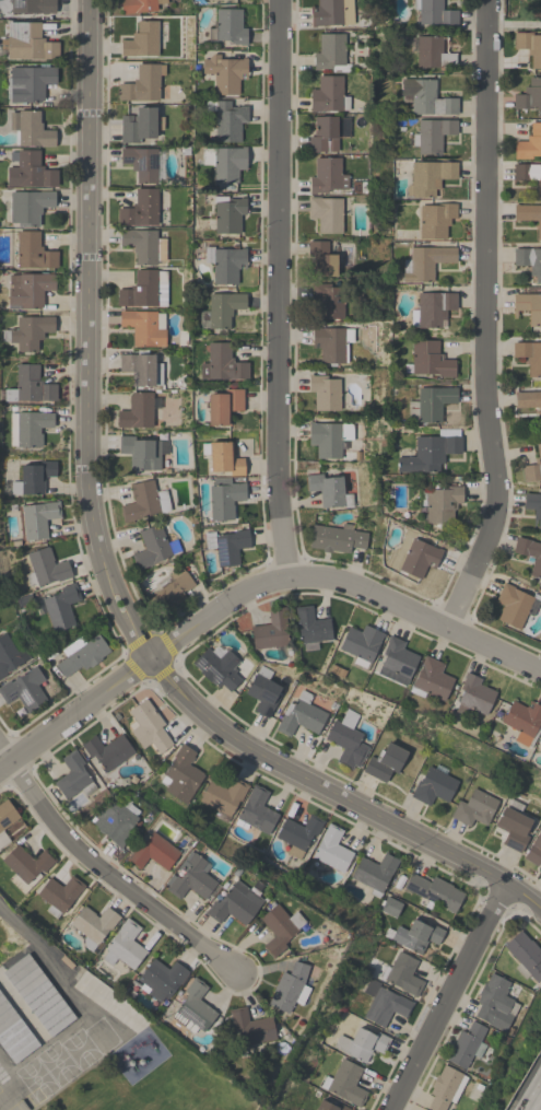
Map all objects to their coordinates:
building: (140, 5)
building: (34, 8)
building: (332, 13)
building: (433, 13)
road: (514, 24)
building: (228, 27)
building: (142, 40)
building: (28, 42)
building: (529, 46)
building: (431, 51)
building: (331, 52)
building: (225, 73)
building: (30, 83)
building: (143, 83)
building: (329, 94)
building: (530, 96)
building: (426, 97)
building: (227, 120)
building: (141, 125)
building: (31, 129)
building: (329, 133)
building: (433, 135)
building: (529, 143)
building: (144, 163)
building: (225, 164)
building: (30, 171)
building: (529, 175)
building: (327, 176)
building: (430, 177)
building: (30, 207)
building: (148, 208)
building: (327, 213)
building: (228, 214)
building: (528, 214)
building: (436, 220)
building: (144, 245)
building: (34, 252)
building: (322, 259)
building: (529, 260)
building: (426, 262)
building: (225, 264)
road: (278, 288)
building: (145, 289)
building: (30, 290)
building: (329, 301)
building: (529, 306)
building: (432, 308)
building: (221, 309)
road: (484, 320)
building: (145, 327)
building: (30, 332)
road: (89, 337)
building: (332, 343)
building: (530, 355)
building: (430, 360)
building: (222, 363)
building: (142, 369)
building: (30, 386)
building: (326, 392)
building: (528, 400)
building: (431, 404)
building: (224, 406)
building: (139, 411)
building: (28, 428)
building: (327, 439)
building: (432, 451)
building: (141, 453)
building: (223, 457)
building: (533, 468)
building: (33, 478)
building: (330, 490)
building: (225, 498)
building: (145, 501)
building: (442, 501)
building: (533, 505)
building: (37, 518)
building: (337, 538)
building: (227, 545)
building: (154, 547)
building: (529, 552)
building: (417, 557)
building: (46, 568)
road: (254, 589)
building: (170, 591)
building: (24, 600)
building: (515, 605)
building: (61, 606)
building: (311, 628)
building: (271, 630)
building: (361, 645)
building: (48, 651)
building: (82, 654)
building: (10, 655)
building: (398, 658)
building: (219, 667)
building: (431, 679)
building: (25, 689)
building: (263, 691)
building: (475, 693)
building: (301, 715)
building: (524, 722)
building: (149, 725)
building: (348, 740)
building: (540, 740)
building: (108, 750)
building: (540, 750)
road: (3, 758)
building: (385, 762)
building: (181, 774)
building: (74, 776)
building: (434, 785)
building: (223, 796)
road: (337, 798)
building: (474, 808)
building: (257, 811)
building: (5, 819)
building: (117, 820)
building: (514, 826)
building: (299, 833)
building: (332, 849)
building: (534, 851)
building: (154, 852)
building: (26, 866)
building: (375, 873)
road: (113, 877)
building: (190, 877)
building: (434, 892)
building: (60, 895)
building: (234, 904)
building: (391, 907)
building: (93, 925)
building: (280, 928)
building: (414, 936)
building: (125, 946)
building: (526, 956)
road: (52, 958)
building: (402, 974)
building: (162, 978)
building: (290, 988)
building: (39, 995)
road: (448, 996)
building: (385, 1004)
building: (495, 1004)
building: (193, 1008)
building: (251, 1027)
building: (14, 1032)
building: (362, 1043)
building: (468, 1044)
building: (345, 1083)
building: (446, 1088)
building: (330, 1106)
road: (538, 1106)

